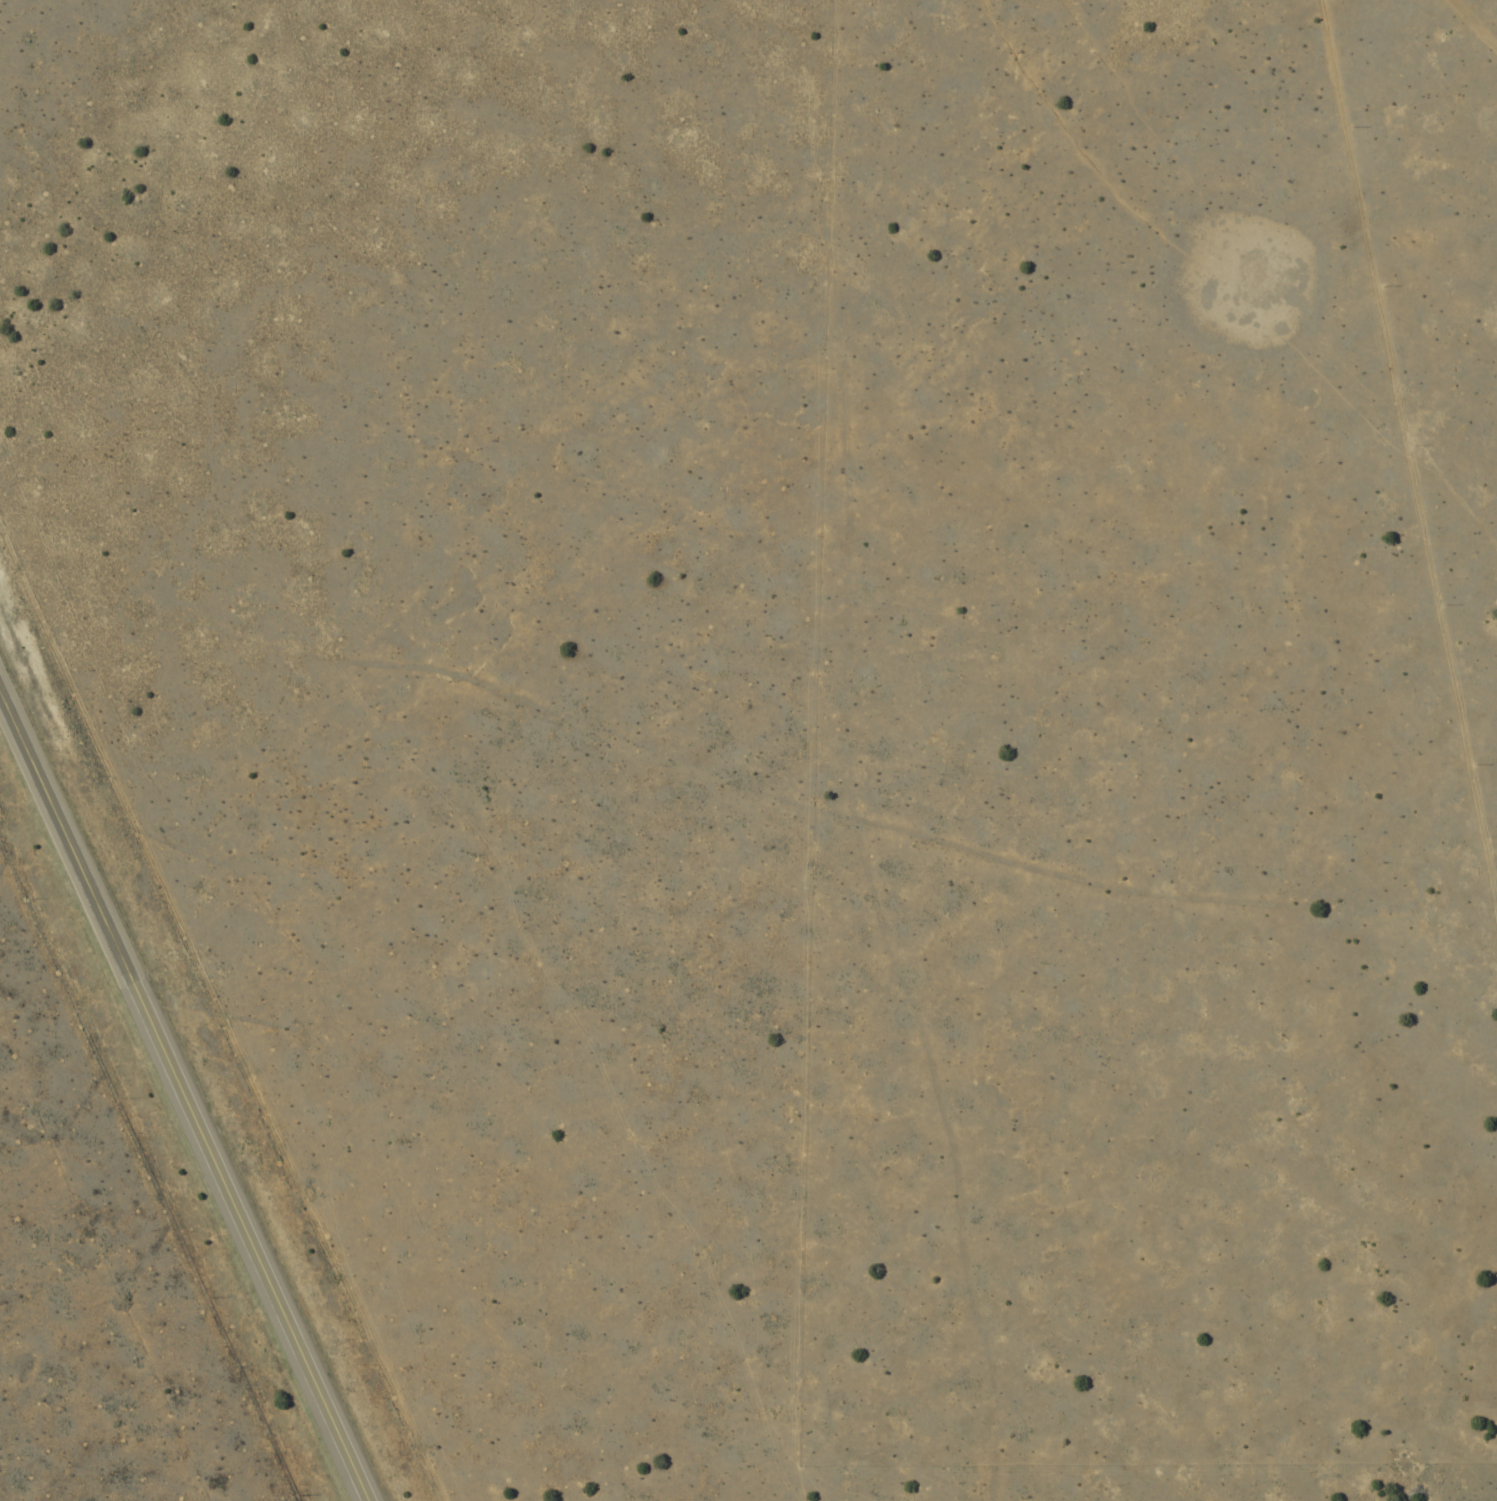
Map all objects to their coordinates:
road: (1462, 38)
road: (182, 1101)

